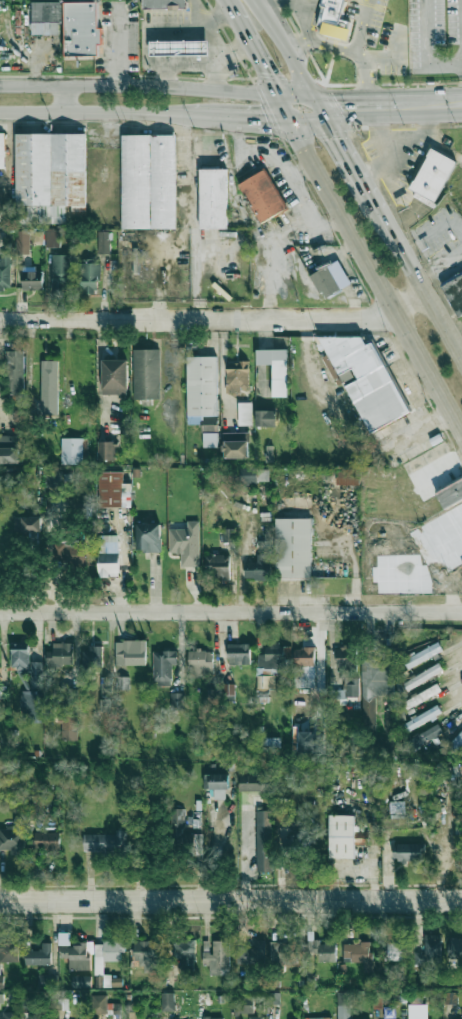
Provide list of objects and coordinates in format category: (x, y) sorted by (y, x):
building: (162, 4)
road: (367, 4)
road: (271, 7)
building: (46, 17)
road: (240, 17)
building: (333, 20)
building: (81, 28)
road: (360, 29)
road: (307, 31)
parking lot: (435, 37)
road: (426, 47)
building: (179, 48)
road: (286, 52)
road: (363, 53)
road: (267, 70)
traffic signals: (269, 74)
road: (366, 79)
road: (144, 86)
road: (65, 98)
road: (354, 106)
road: (425, 106)
road: (303, 107)
traffic signals: (343, 107)
road: (106, 112)
road: (249, 116)
traffic signals: (265, 116)
traffic signals: (338, 139)
road: (340, 143)
building: (2, 150)
road: (301, 170)
building: (433, 174)
building: (50, 177)
building: (148, 181)
building: (262, 195)
building: (212, 198)
road: (310, 213)
road: (331, 222)
building: (38, 236)
building: (52, 237)
building: (22, 241)
building: (104, 242)
road: (412, 268)
building: (5, 270)
road: (372, 270)
building: (61, 272)
building: (89, 277)
building: (330, 278)
building: (32, 279)
building: (454, 291)
road: (216, 316)
building: (275, 367)
building: (14, 371)
building: (146, 373)
building: (114, 376)
building: (236, 376)
building: (49, 379)
building: (366, 380)
building: (202, 396)
building: (244, 413)
building: (265, 417)
road: (345, 429)
road: (430, 432)
building: (235, 444)
building: (10, 448)
building: (73, 450)
building: (106, 450)
building: (269, 452)
building: (254, 475)
building: (348, 476)
building: (53, 478)
building: (113, 489)
building: (450, 493)
building: (26, 525)
building: (148, 536)
building: (185, 542)
building: (293, 547)
road: (345, 551)
building: (71, 554)
building: (108, 555)
building: (218, 565)
building: (259, 567)
road: (231, 612)
building: (130, 652)
building: (60, 653)
building: (238, 653)
building: (422, 654)
building: (94, 656)
building: (272, 658)
building: (200, 662)
building: (163, 666)
building: (304, 667)
building: (345, 674)
building: (423, 676)
building: (122, 682)
building: (29, 684)
building: (105, 684)
building: (229, 689)
building: (421, 696)
building: (178, 700)
building: (421, 717)
building: (391, 719)
building: (68, 726)
building: (424, 735)
building: (456, 741)
building: (271, 742)
building: (311, 742)
building: (255, 782)
building: (217, 784)
building: (186, 834)
building: (341, 836)
building: (13, 838)
building: (362, 838)
building: (263, 840)
building: (46, 841)
building: (105, 841)
building: (296, 843)
building: (408, 852)
road: (246, 861)
road: (231, 903)
building: (456, 945)
building: (429, 949)
building: (145, 950)
building: (282, 950)
building: (322, 950)
building: (394, 950)
building: (9, 951)
building: (185, 952)
building: (356, 952)
building: (107, 953)
building: (251, 953)
building: (39, 955)
building: (76, 955)
building: (217, 957)
building: (1, 975)
building: (112, 980)
building: (47, 981)
building: (81, 981)
building: (1, 997)
building: (451, 997)
building: (273, 998)
building: (168, 1001)
building: (244, 1004)
building: (104, 1005)
building: (343, 1005)
building: (417, 1011)
building: (7, 1015)
building: (132, 1015)
building: (213, 1017)
building: (255, 1017)
building: (316, 1018)

